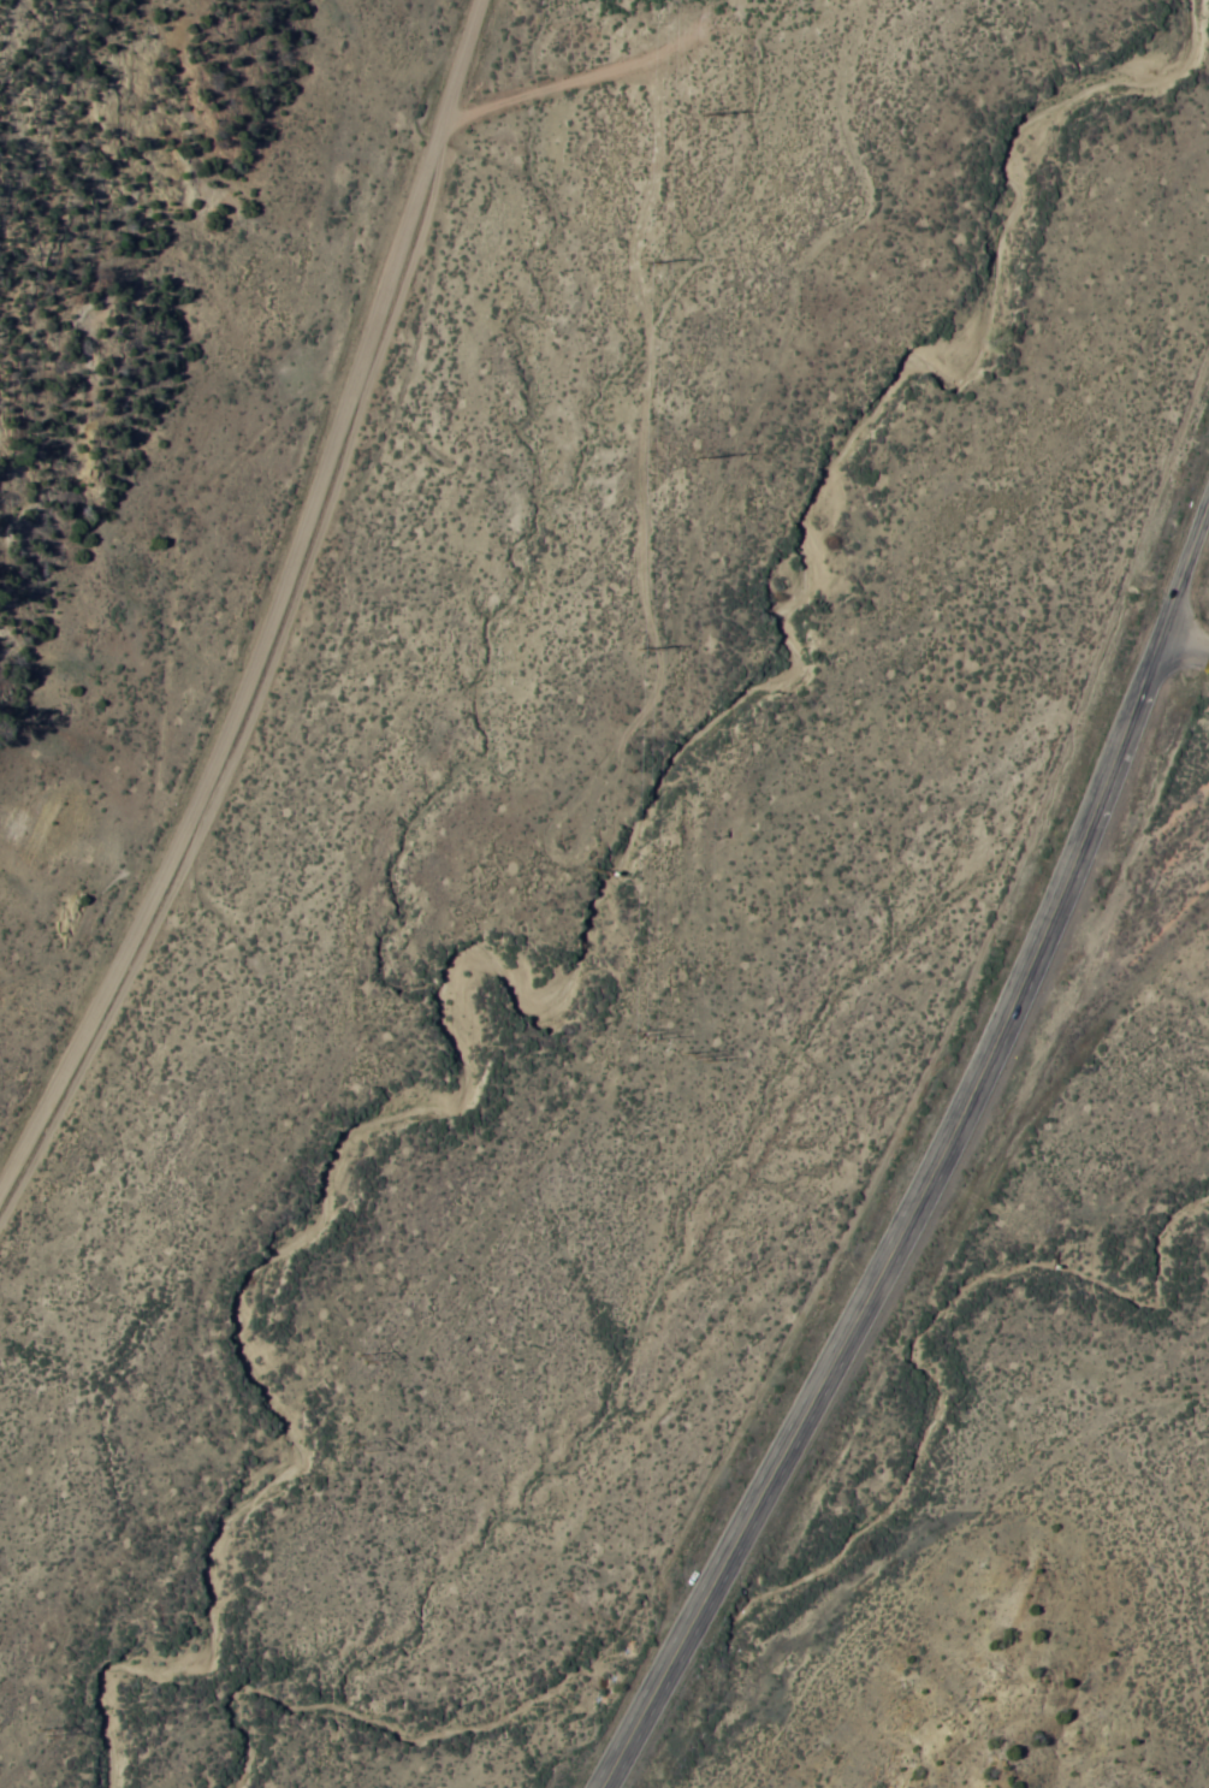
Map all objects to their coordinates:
road: (11, 338)
road: (1185, 566)
road: (284, 618)
road: (1185, 639)
road: (1039, 922)
road: (761, 1499)

